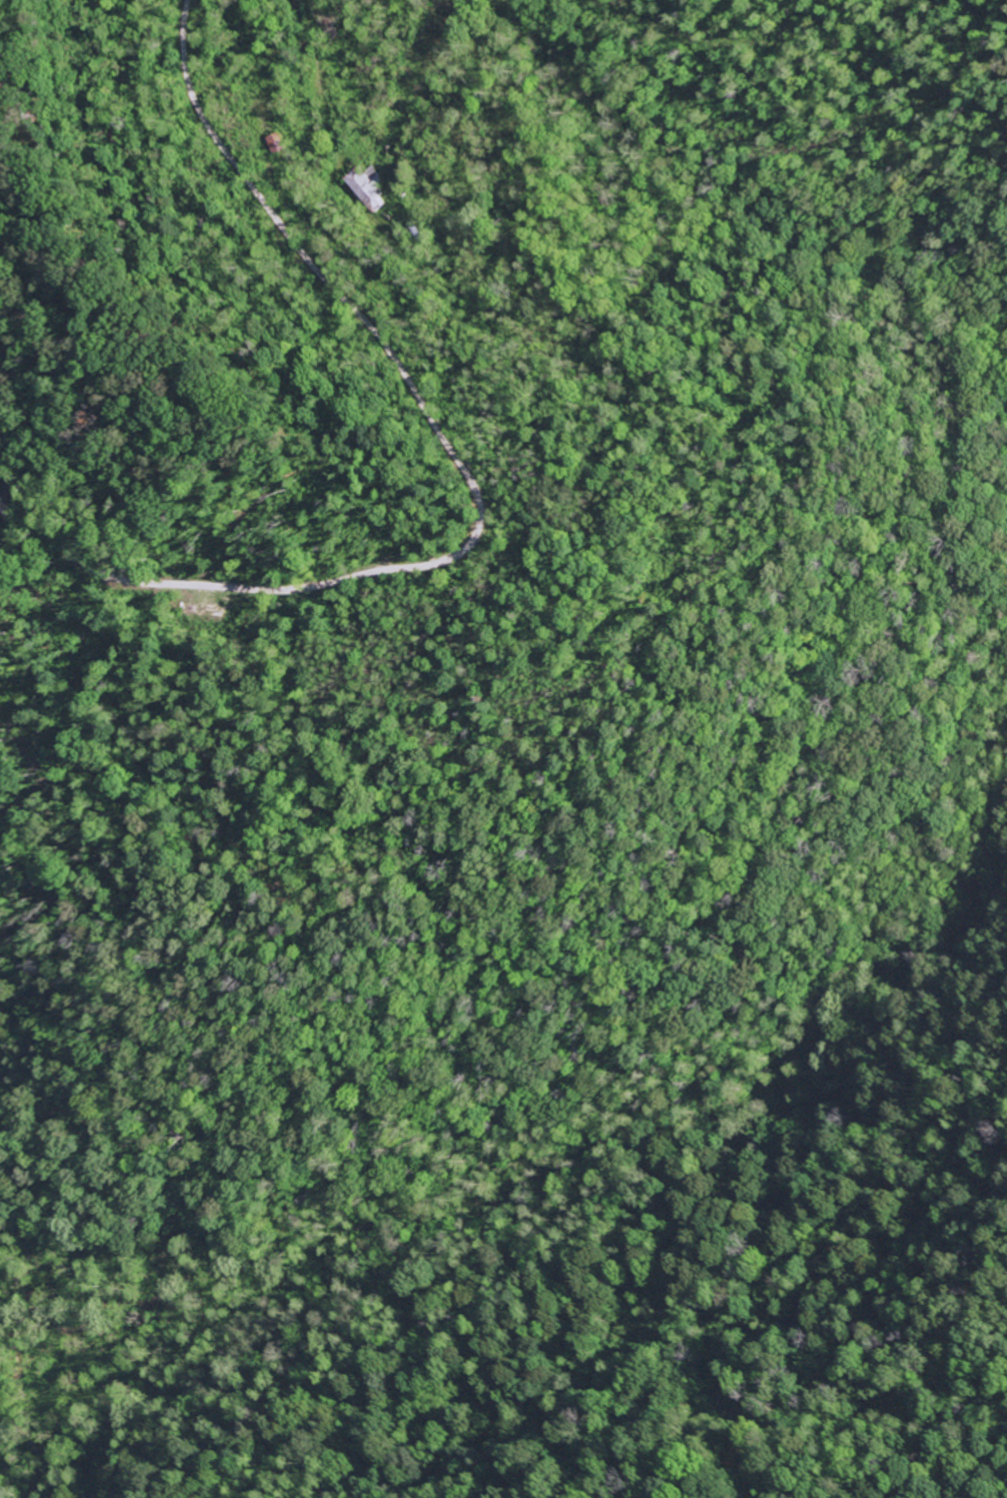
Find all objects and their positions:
road: (318, 79)
road: (473, 490)

